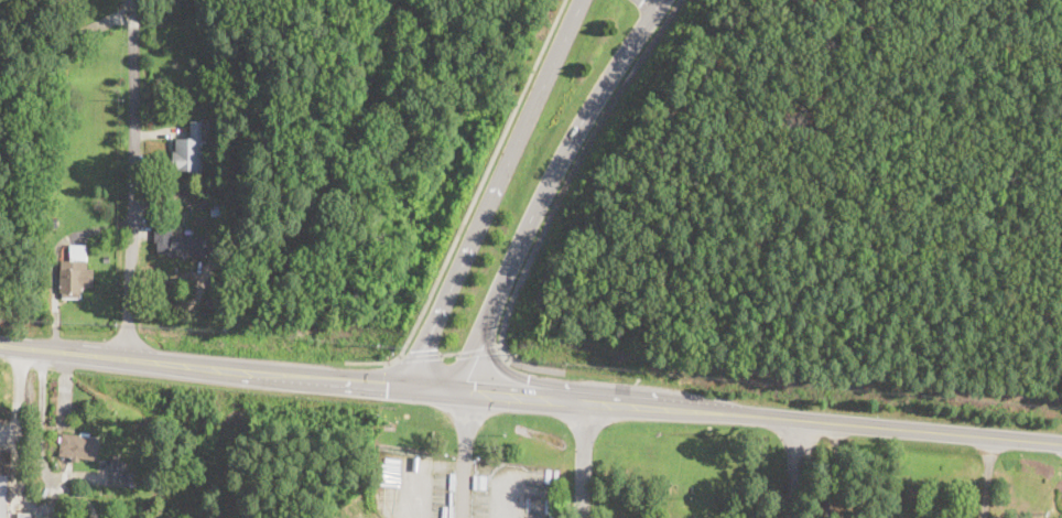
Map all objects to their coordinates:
road: (649, 4)
road: (134, 37)
building: (217, 112)
building: (188, 153)
road: (546, 185)
road: (496, 191)
road: (559, 197)
road: (472, 204)
road: (130, 217)
building: (51, 219)
building: (177, 241)
building: (106, 259)
building: (75, 273)
road: (10, 347)
traffic signals: (424, 348)
road: (30, 349)
road: (479, 349)
road: (448, 354)
road: (419, 356)
road: (224, 367)
road: (503, 367)
traffic signals: (388, 380)
road: (432, 382)
traffic signals: (528, 382)
traffic signals: (475, 387)
road: (17, 389)
road: (499, 389)
road: (564, 396)
road: (823, 422)
road: (6, 431)
road: (41, 445)
building: (79, 446)
road: (467, 450)
road: (582, 457)
road: (794, 468)
road: (832, 471)
building: (121, 475)
road: (987, 478)
building: (4, 481)
road: (19, 490)
road: (411, 493)
road: (512, 498)
road: (11, 508)
building: (24, 516)
building: (50, 517)
parking lot: (598, 517)

